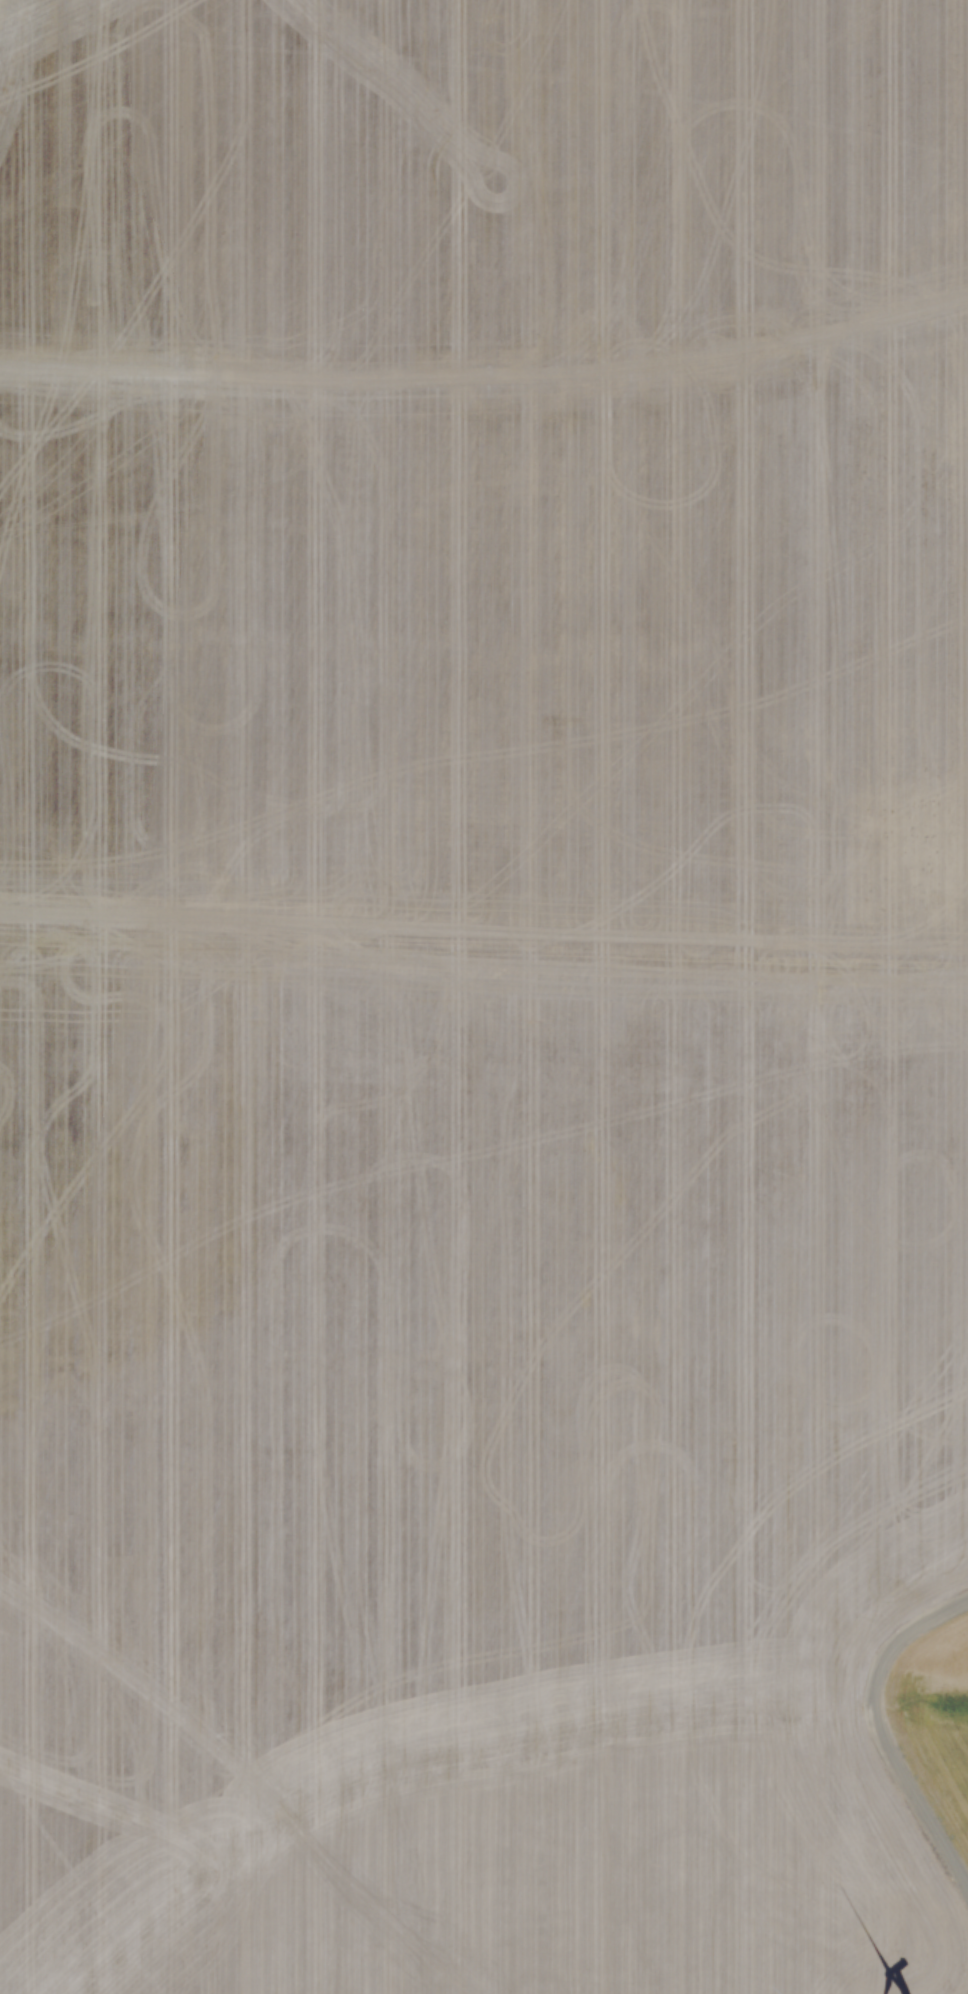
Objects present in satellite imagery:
road: (870, 1724)

